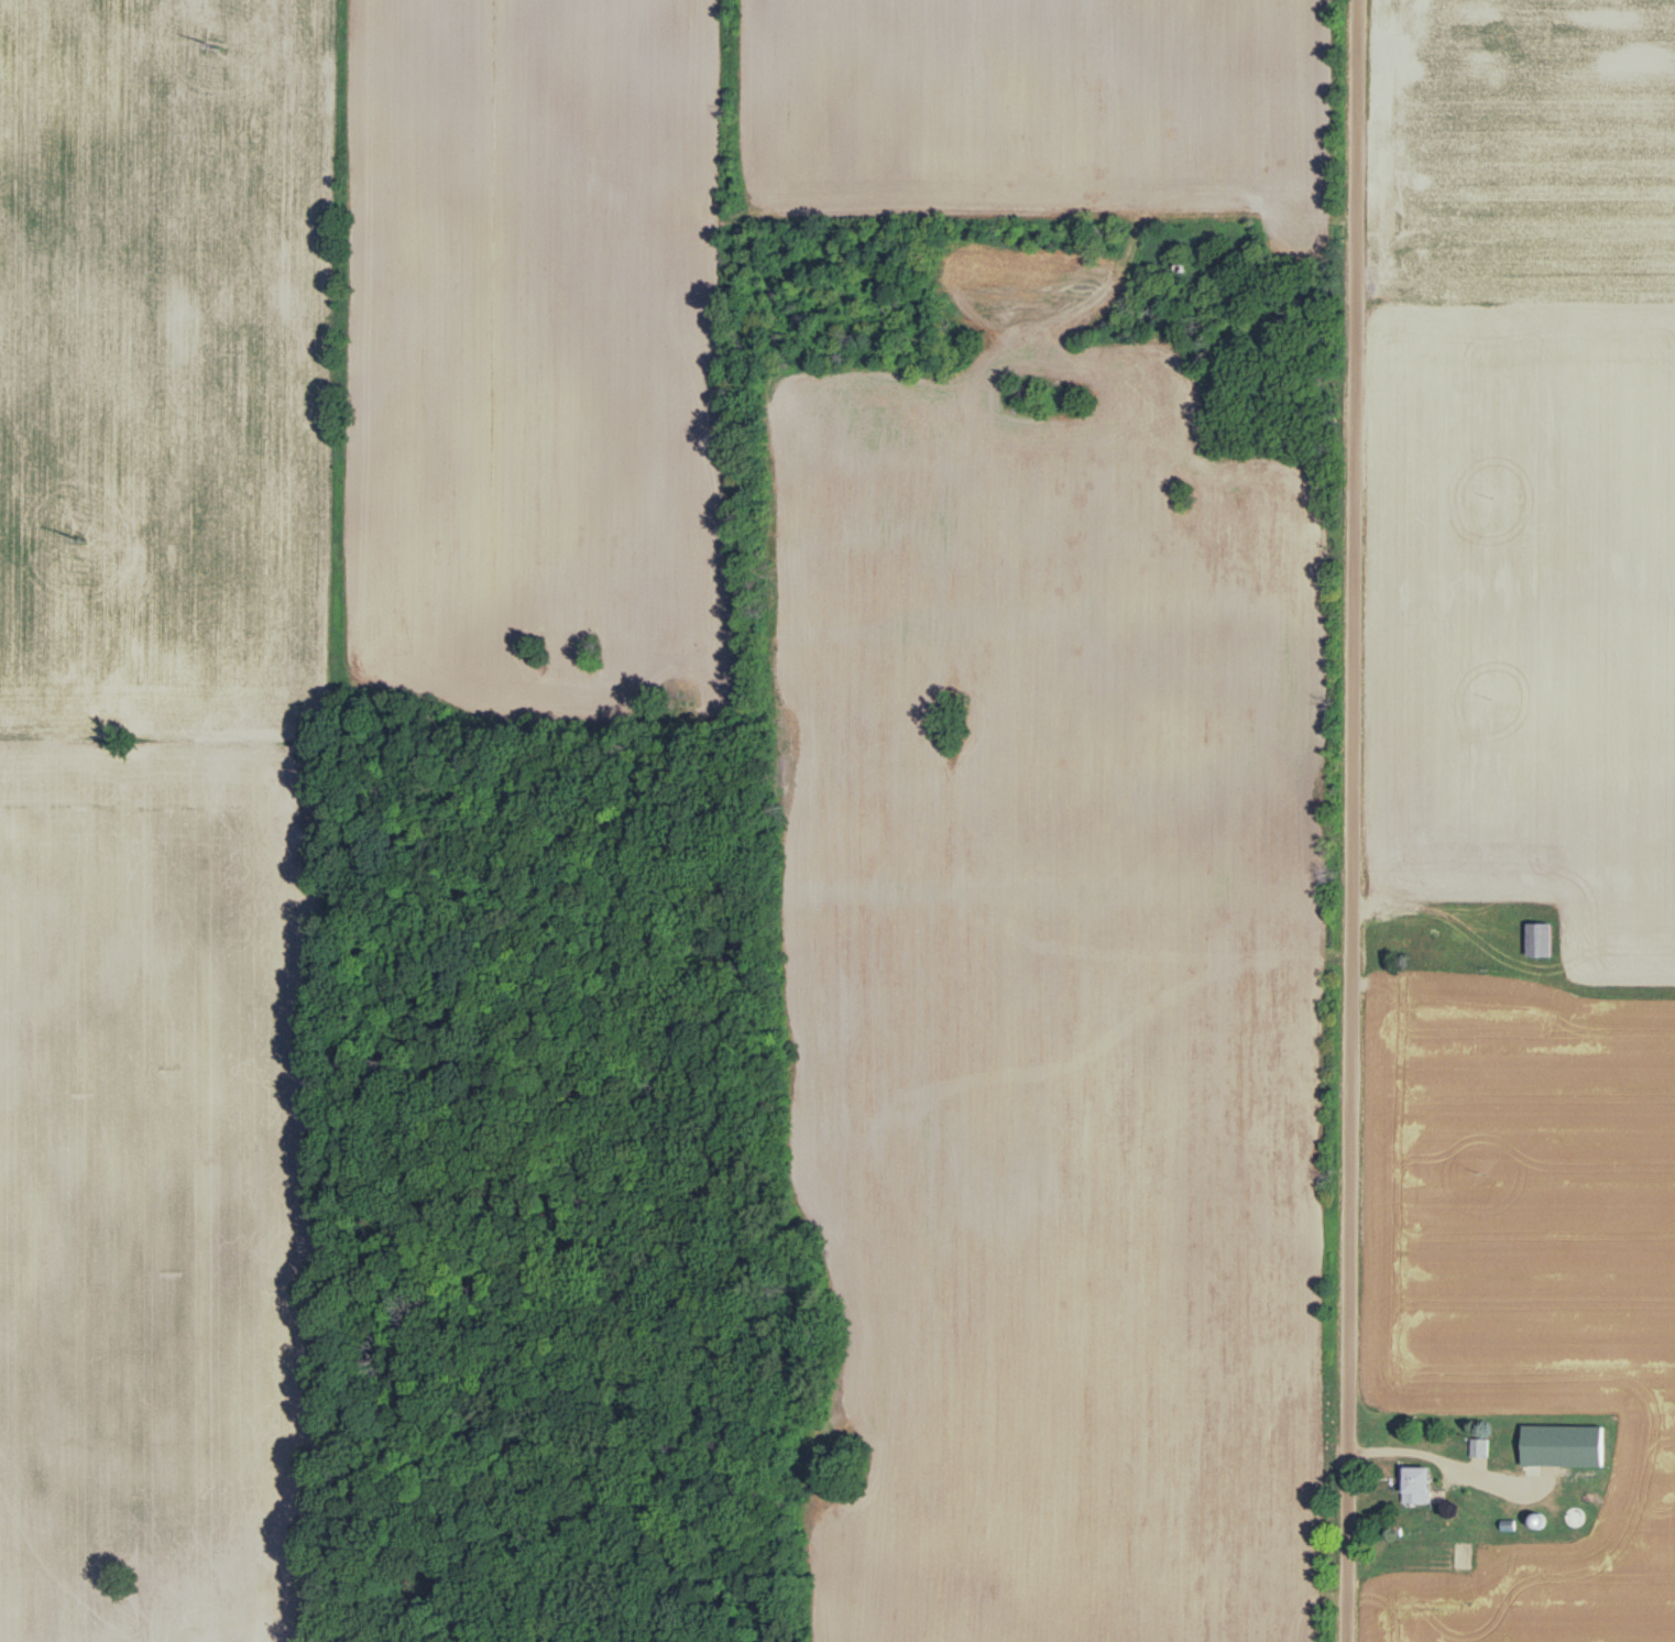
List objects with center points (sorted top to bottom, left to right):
power tower: (211, 44)
power tower: (77, 539)
road: (1346, 821)
building: (1536, 942)
building: (1561, 1448)
building: (1413, 1489)

